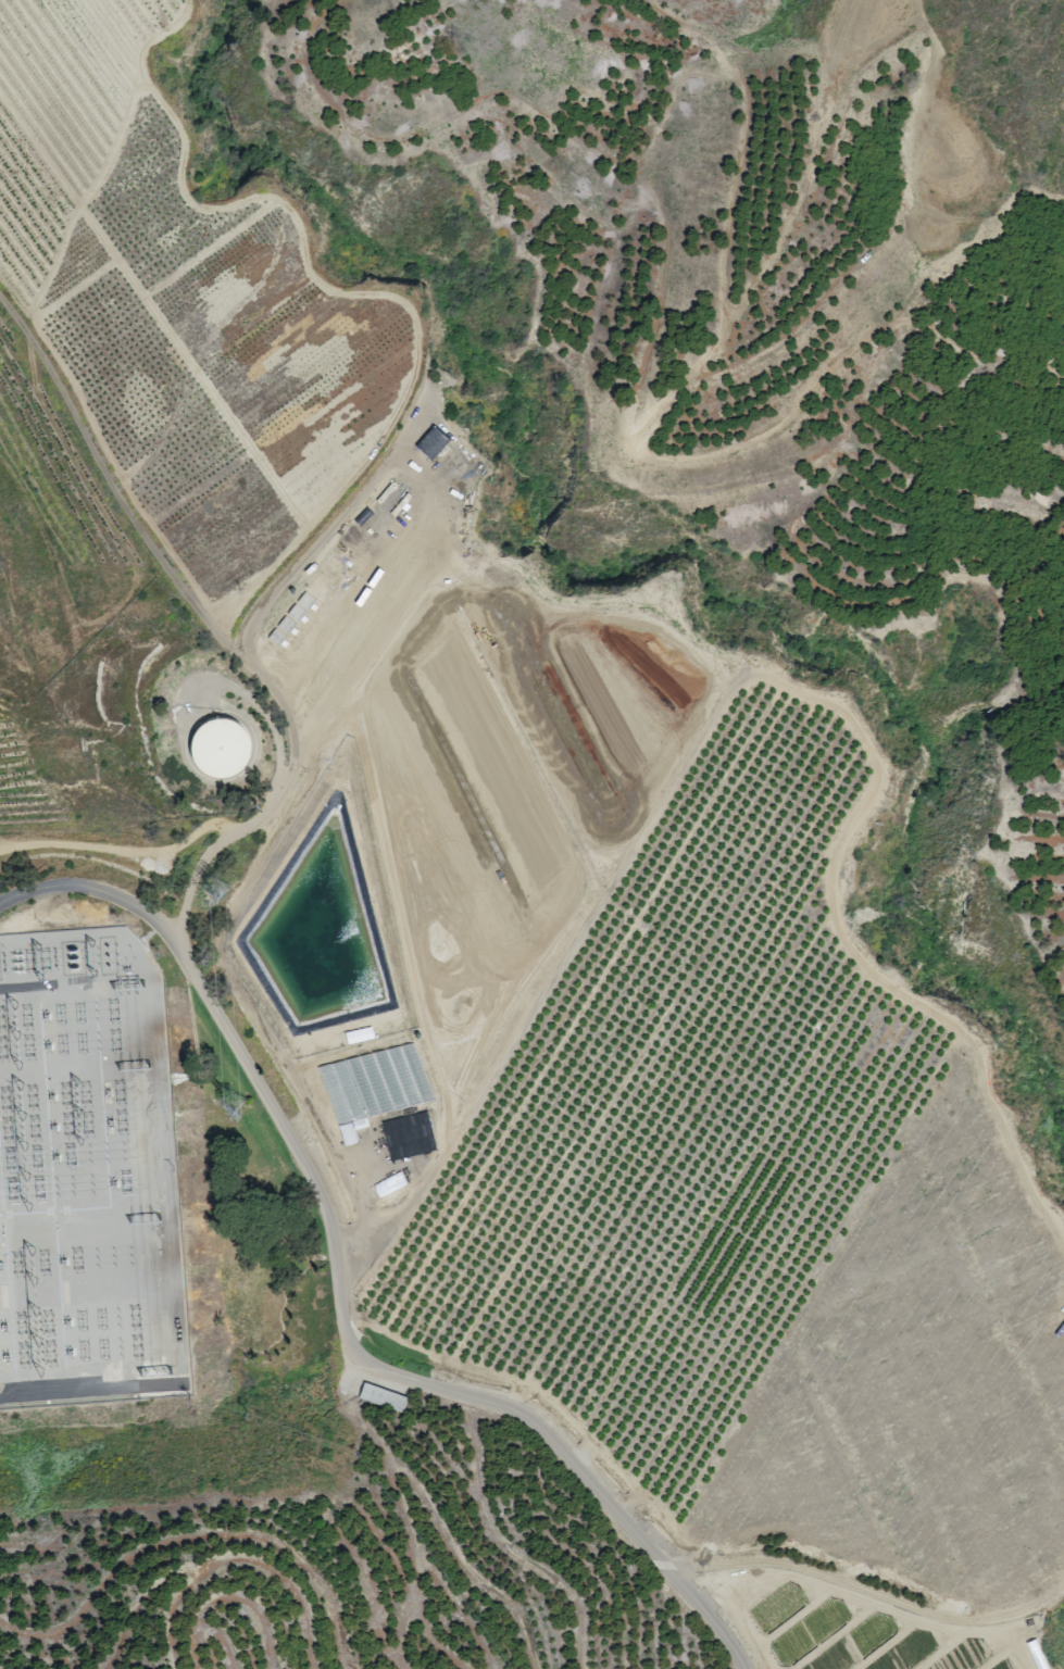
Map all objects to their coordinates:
building: (433, 442)
building: (217, 746)
storage tank: (221, 748)
road: (212, 846)
power tower: (211, 884)
road: (96, 888)
power tower: (224, 1104)
building: (410, 1134)
power substation: (88, 1175)
building: (395, 1182)
road: (362, 1209)
road: (386, 1370)
building: (381, 1396)
road: (811, 1570)

